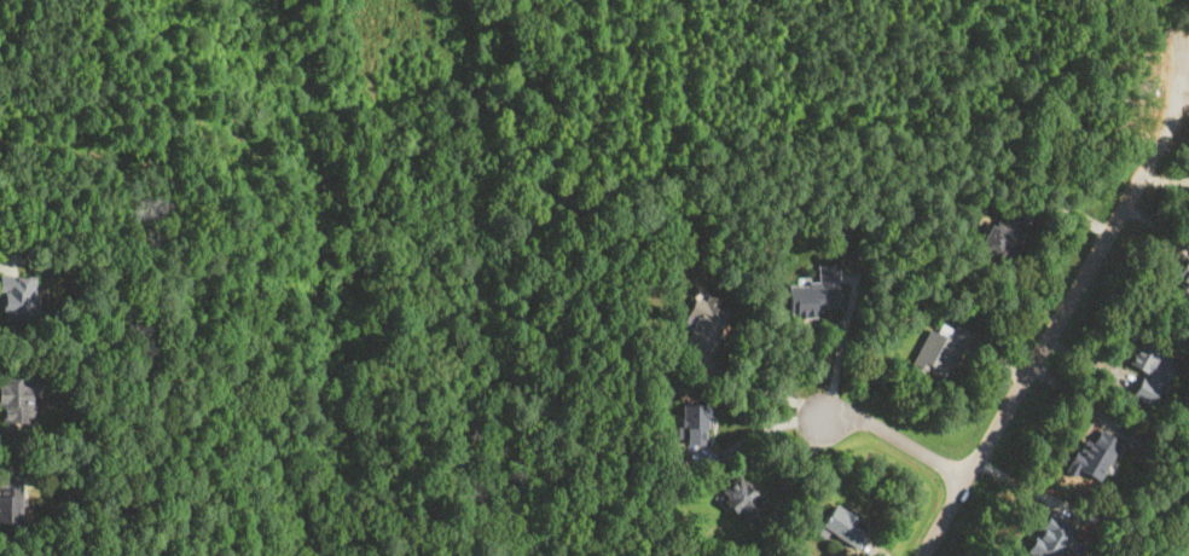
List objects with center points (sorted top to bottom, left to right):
road: (1167, 117)
building: (1003, 236)
building: (1187, 270)
building: (1184, 290)
building: (817, 291)
building: (17, 297)
building: (704, 324)
road: (840, 343)
building: (940, 349)
road: (1031, 364)
building: (1145, 371)
building: (19, 399)
building: (696, 424)
road: (754, 432)
road: (895, 435)
building: (1091, 454)
building: (743, 500)
building: (11, 502)
building: (843, 526)
building: (1045, 537)

